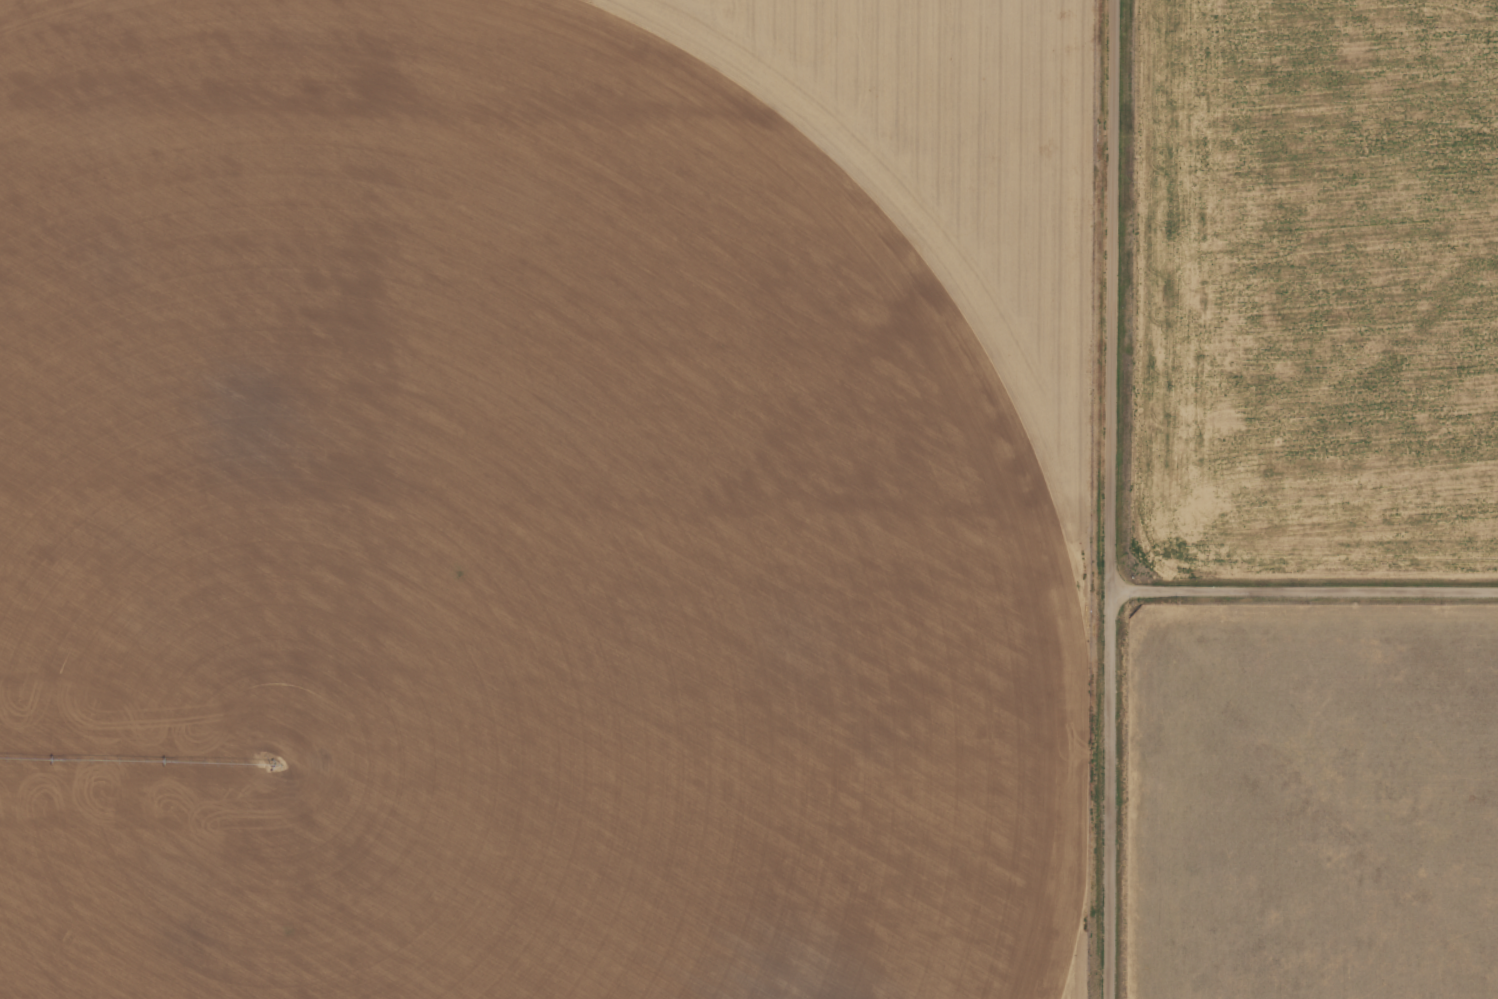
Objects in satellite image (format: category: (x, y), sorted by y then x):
road: (1113, 207)
road: (1303, 587)
road: (1109, 706)

